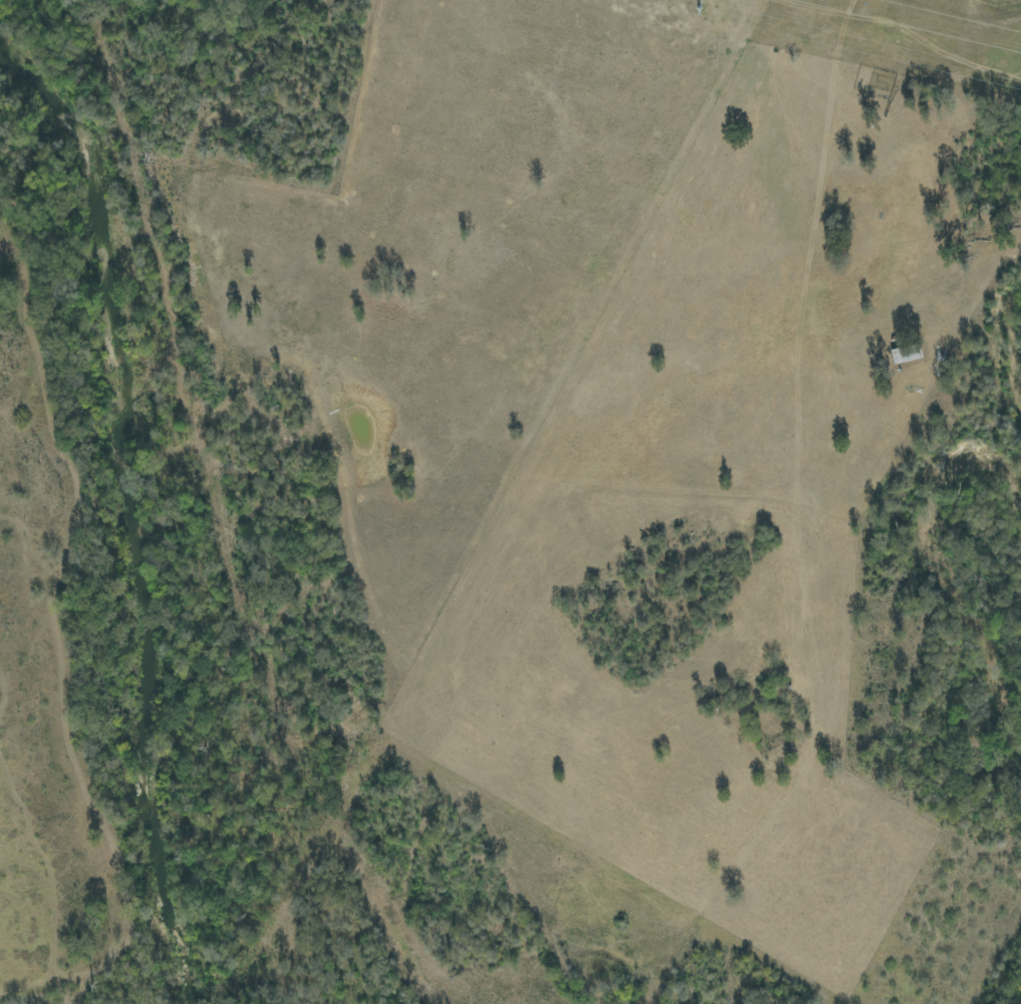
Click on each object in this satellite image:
power tower: (709, 13)
road: (942, 48)

